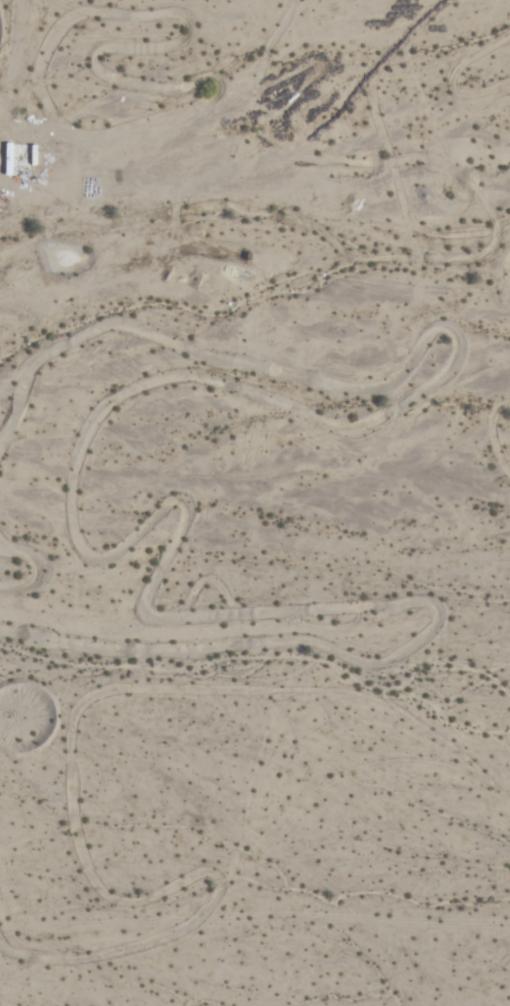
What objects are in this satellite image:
building: (21, 160)

